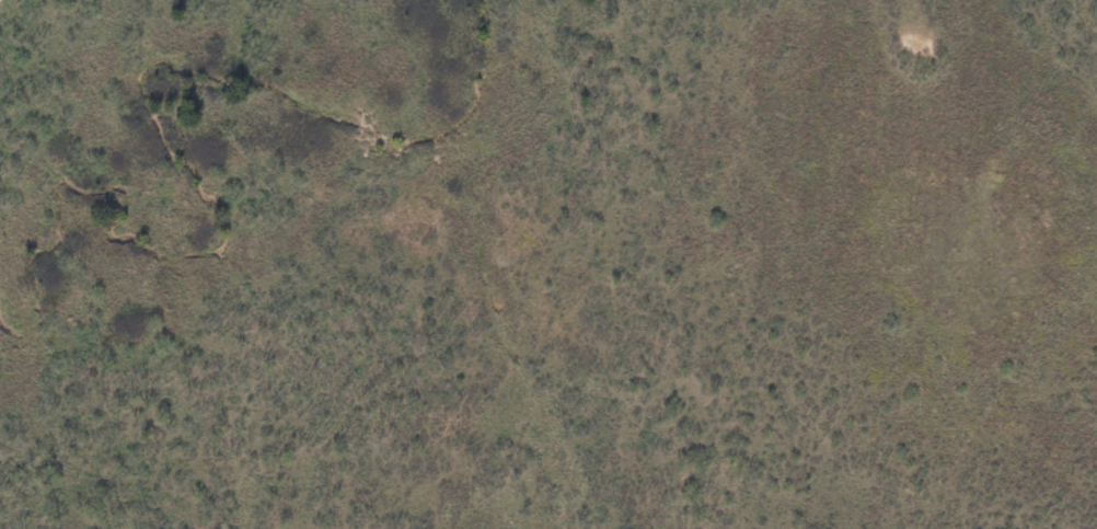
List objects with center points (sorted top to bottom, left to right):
road: (14, 21)

